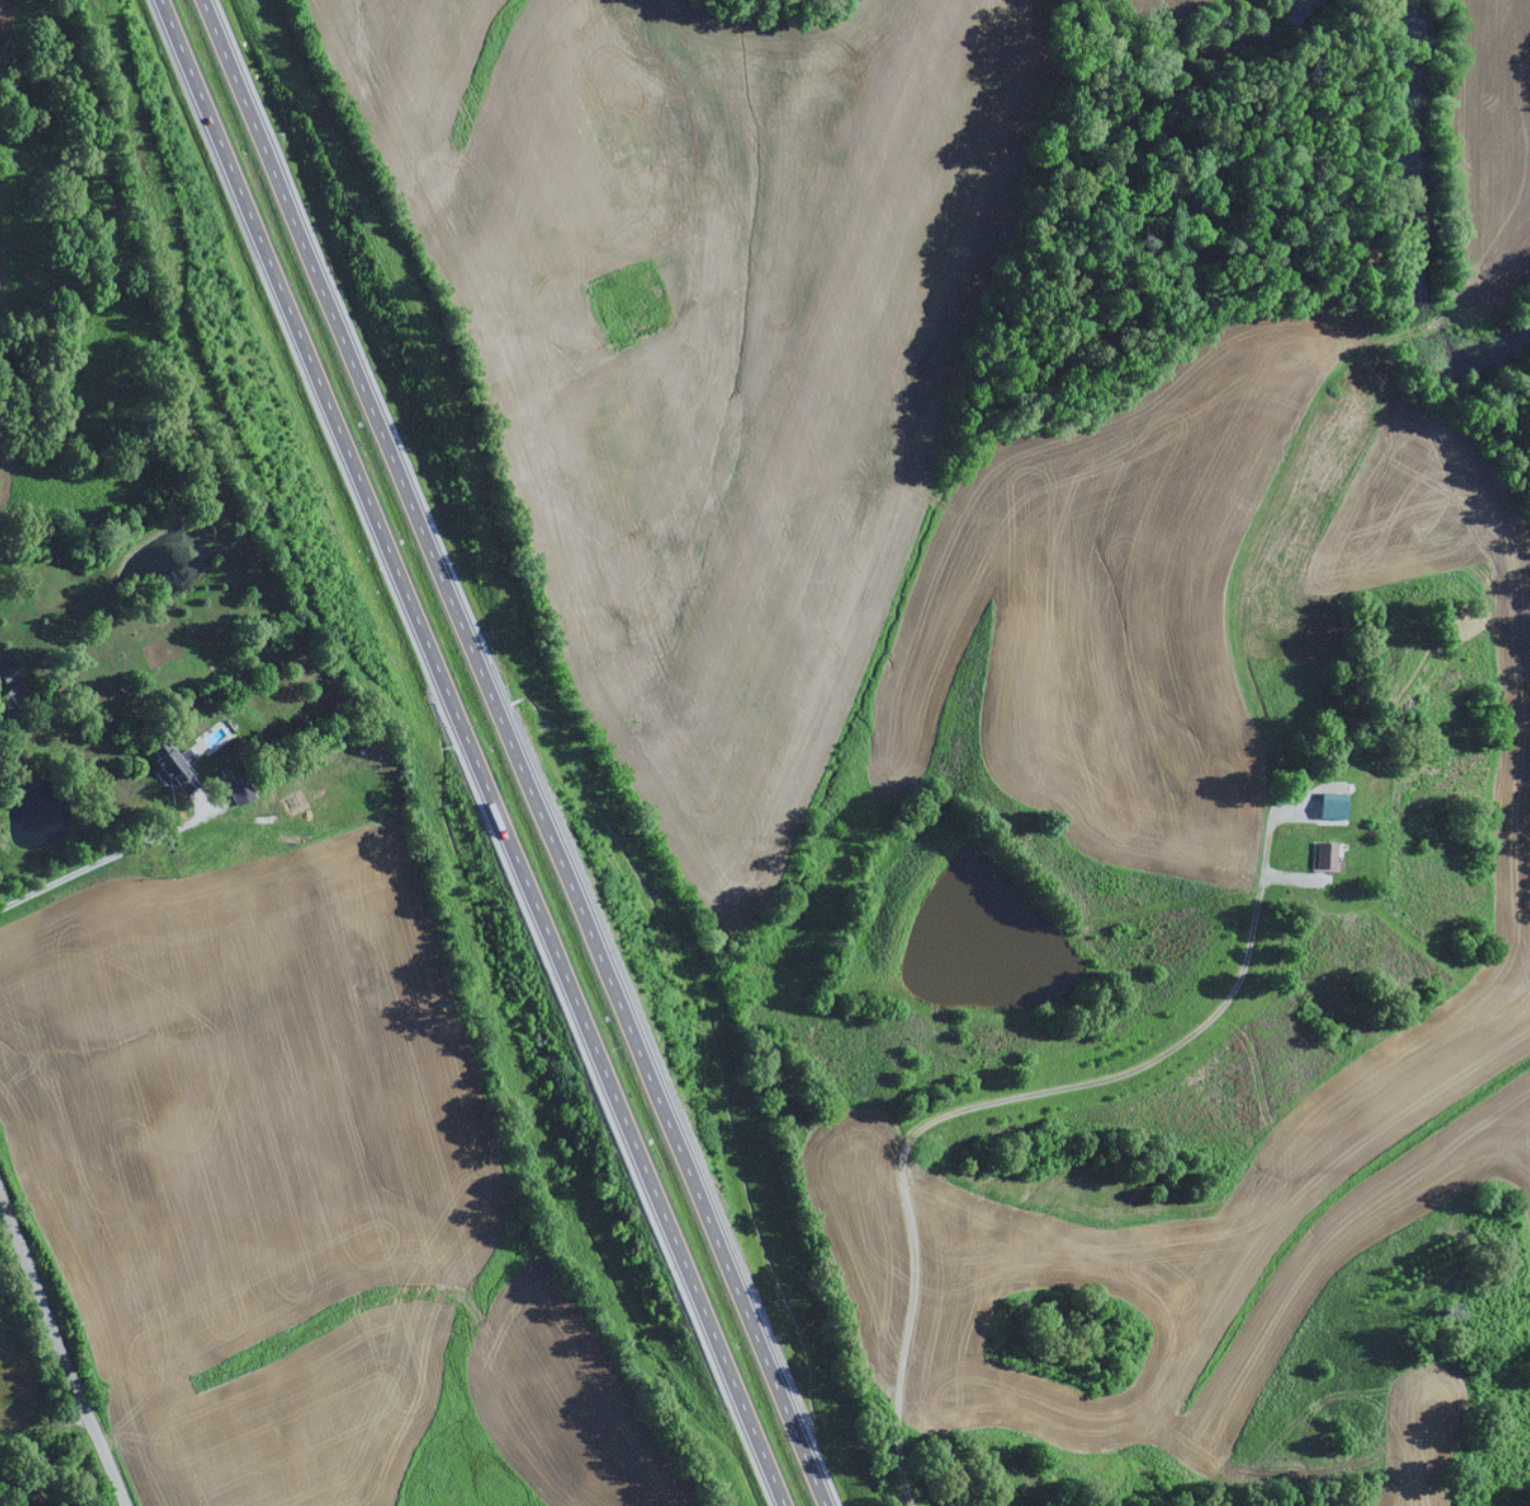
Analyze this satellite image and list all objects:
building: (11, 697)
road: (515, 752)
road: (470, 753)
building: (176, 771)
building: (240, 794)
building: (1331, 808)
building: (1324, 857)
road: (59, 1353)

